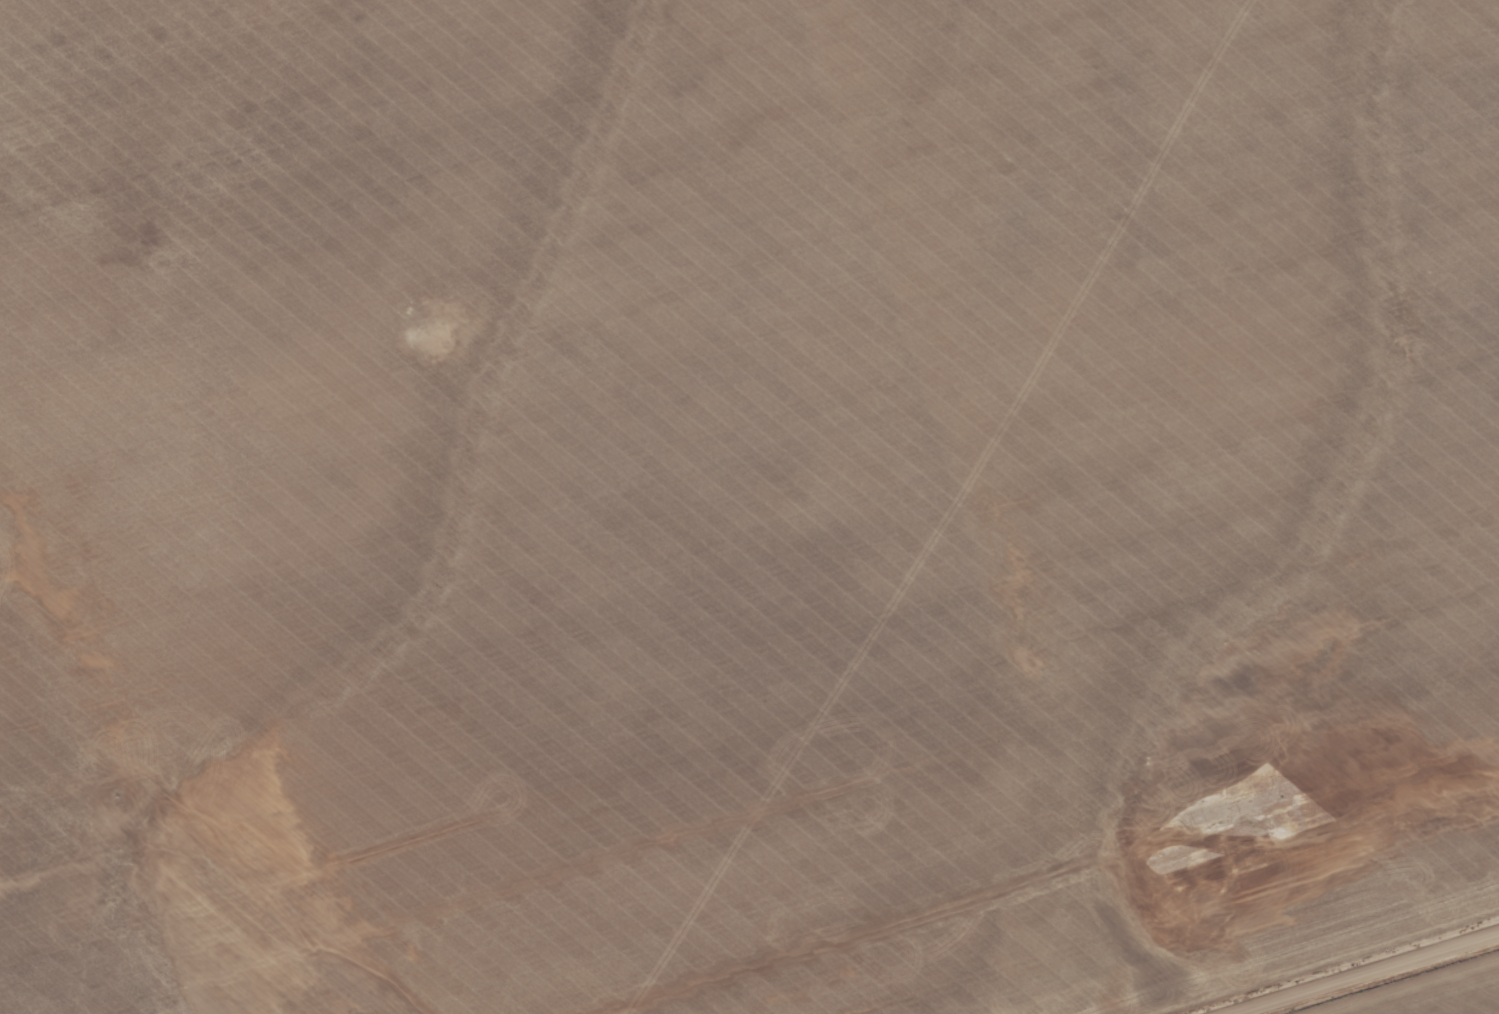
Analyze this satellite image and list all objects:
road: (1365, 973)

